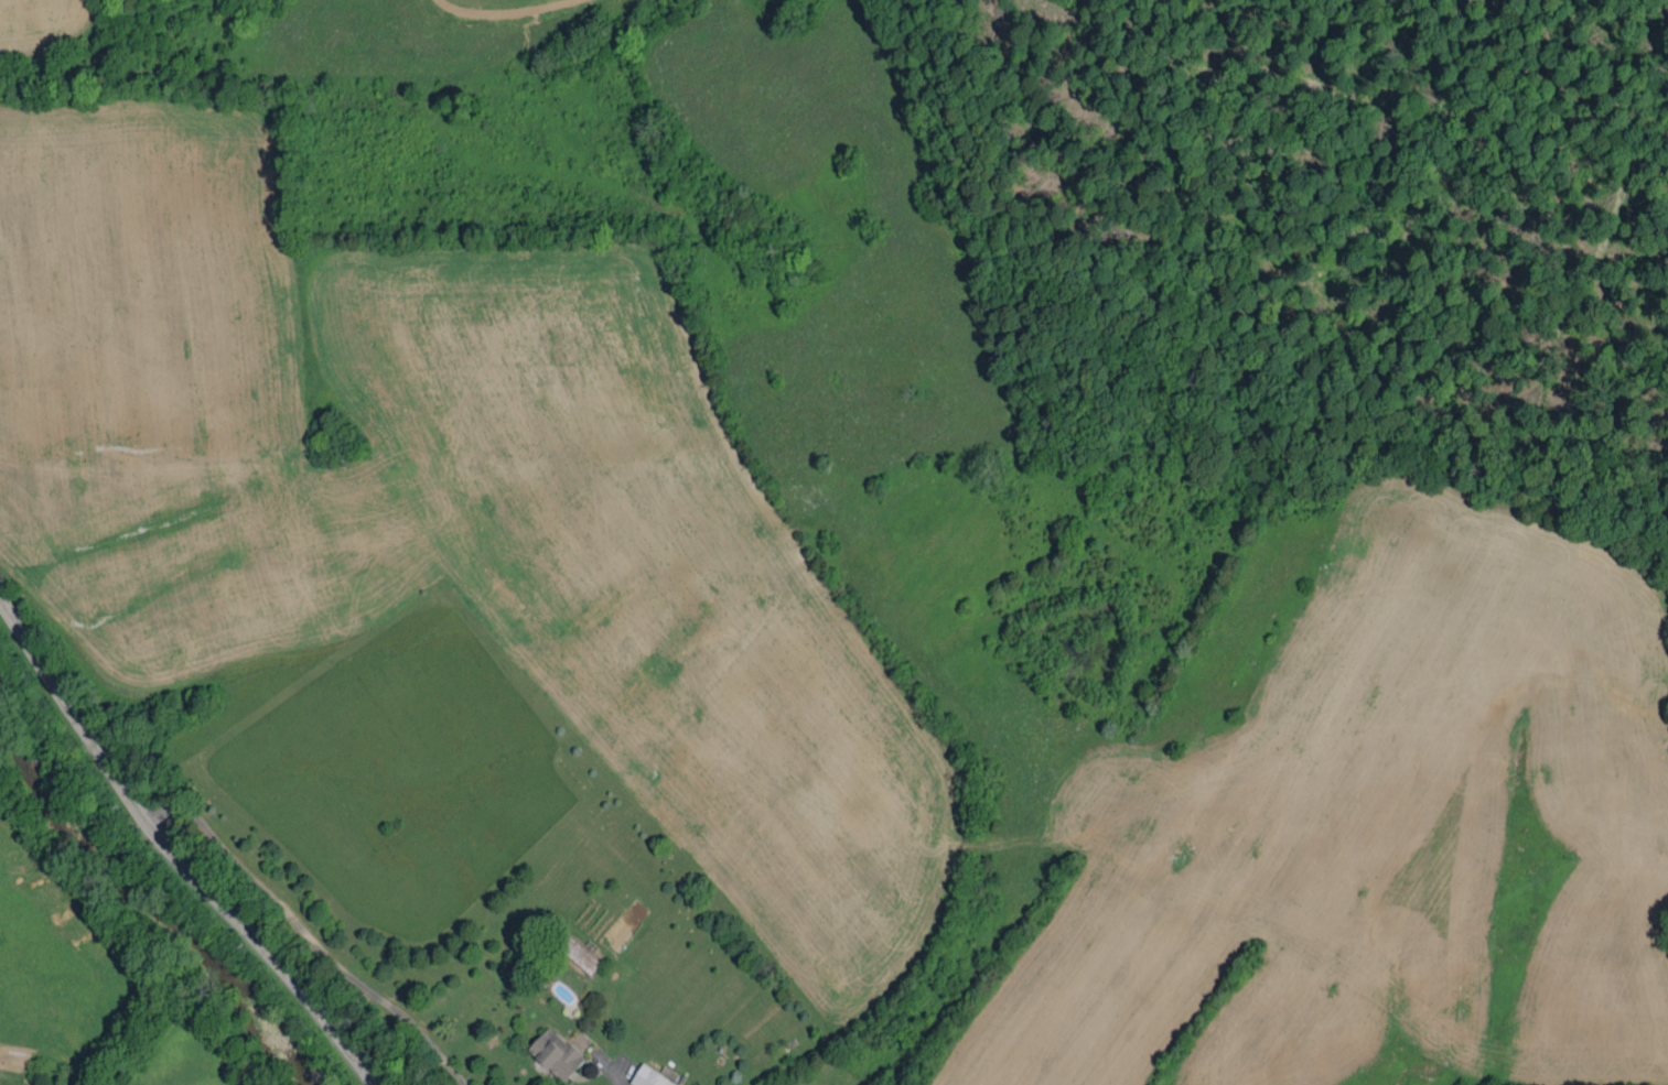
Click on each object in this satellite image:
road: (173, 856)
road: (306, 933)
building: (558, 1054)
road: (613, 1074)
building: (652, 1077)

